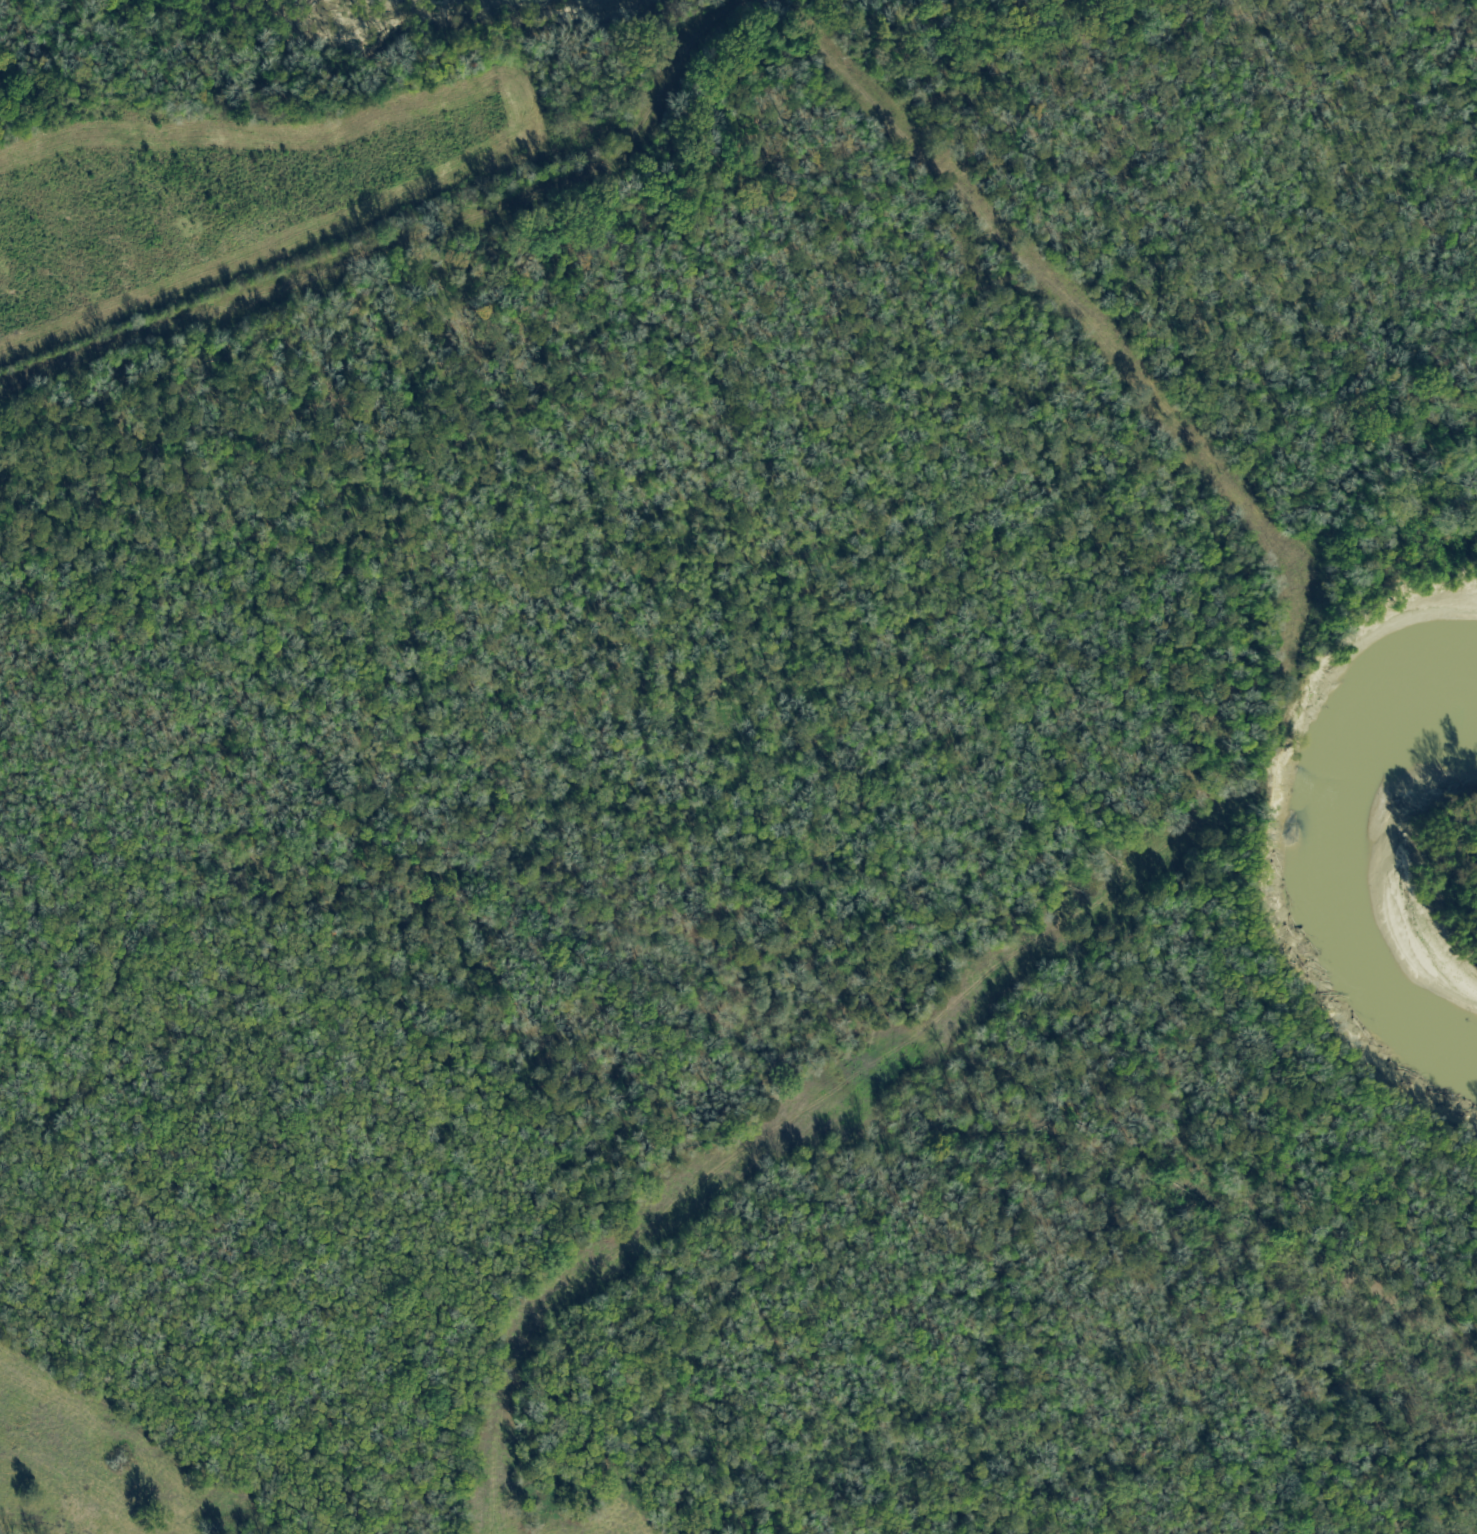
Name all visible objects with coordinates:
river: (1366, 828)

